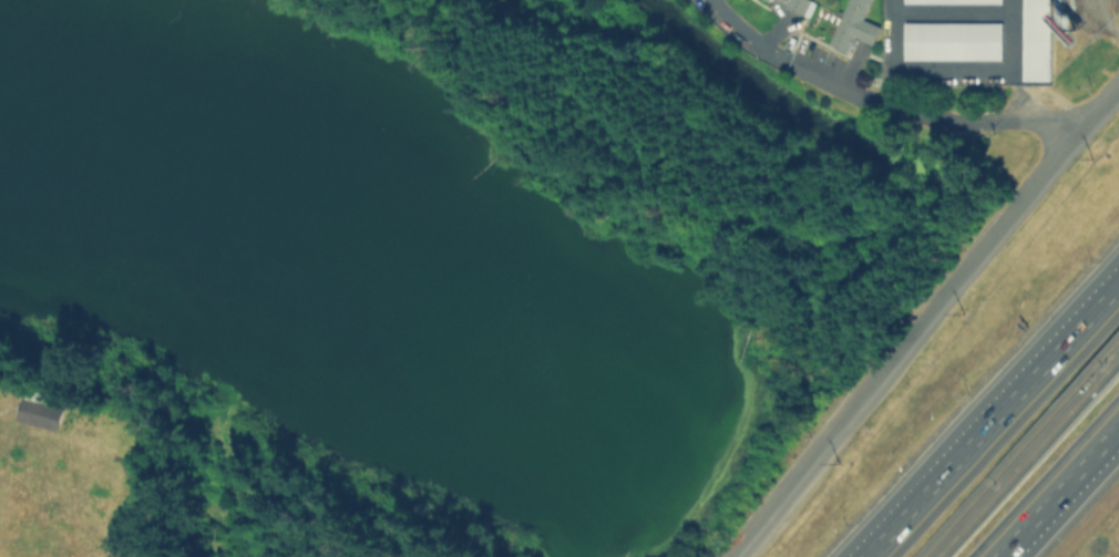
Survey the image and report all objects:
building: (953, 2)
building: (789, 4)
building: (853, 25)
road: (745, 37)
building: (1043, 42)
building: (952, 43)
road: (797, 66)
road: (937, 118)
road: (925, 322)
building: (37, 412)
road: (994, 422)
railway: (1018, 448)
railway: (1026, 457)
road: (1054, 486)

